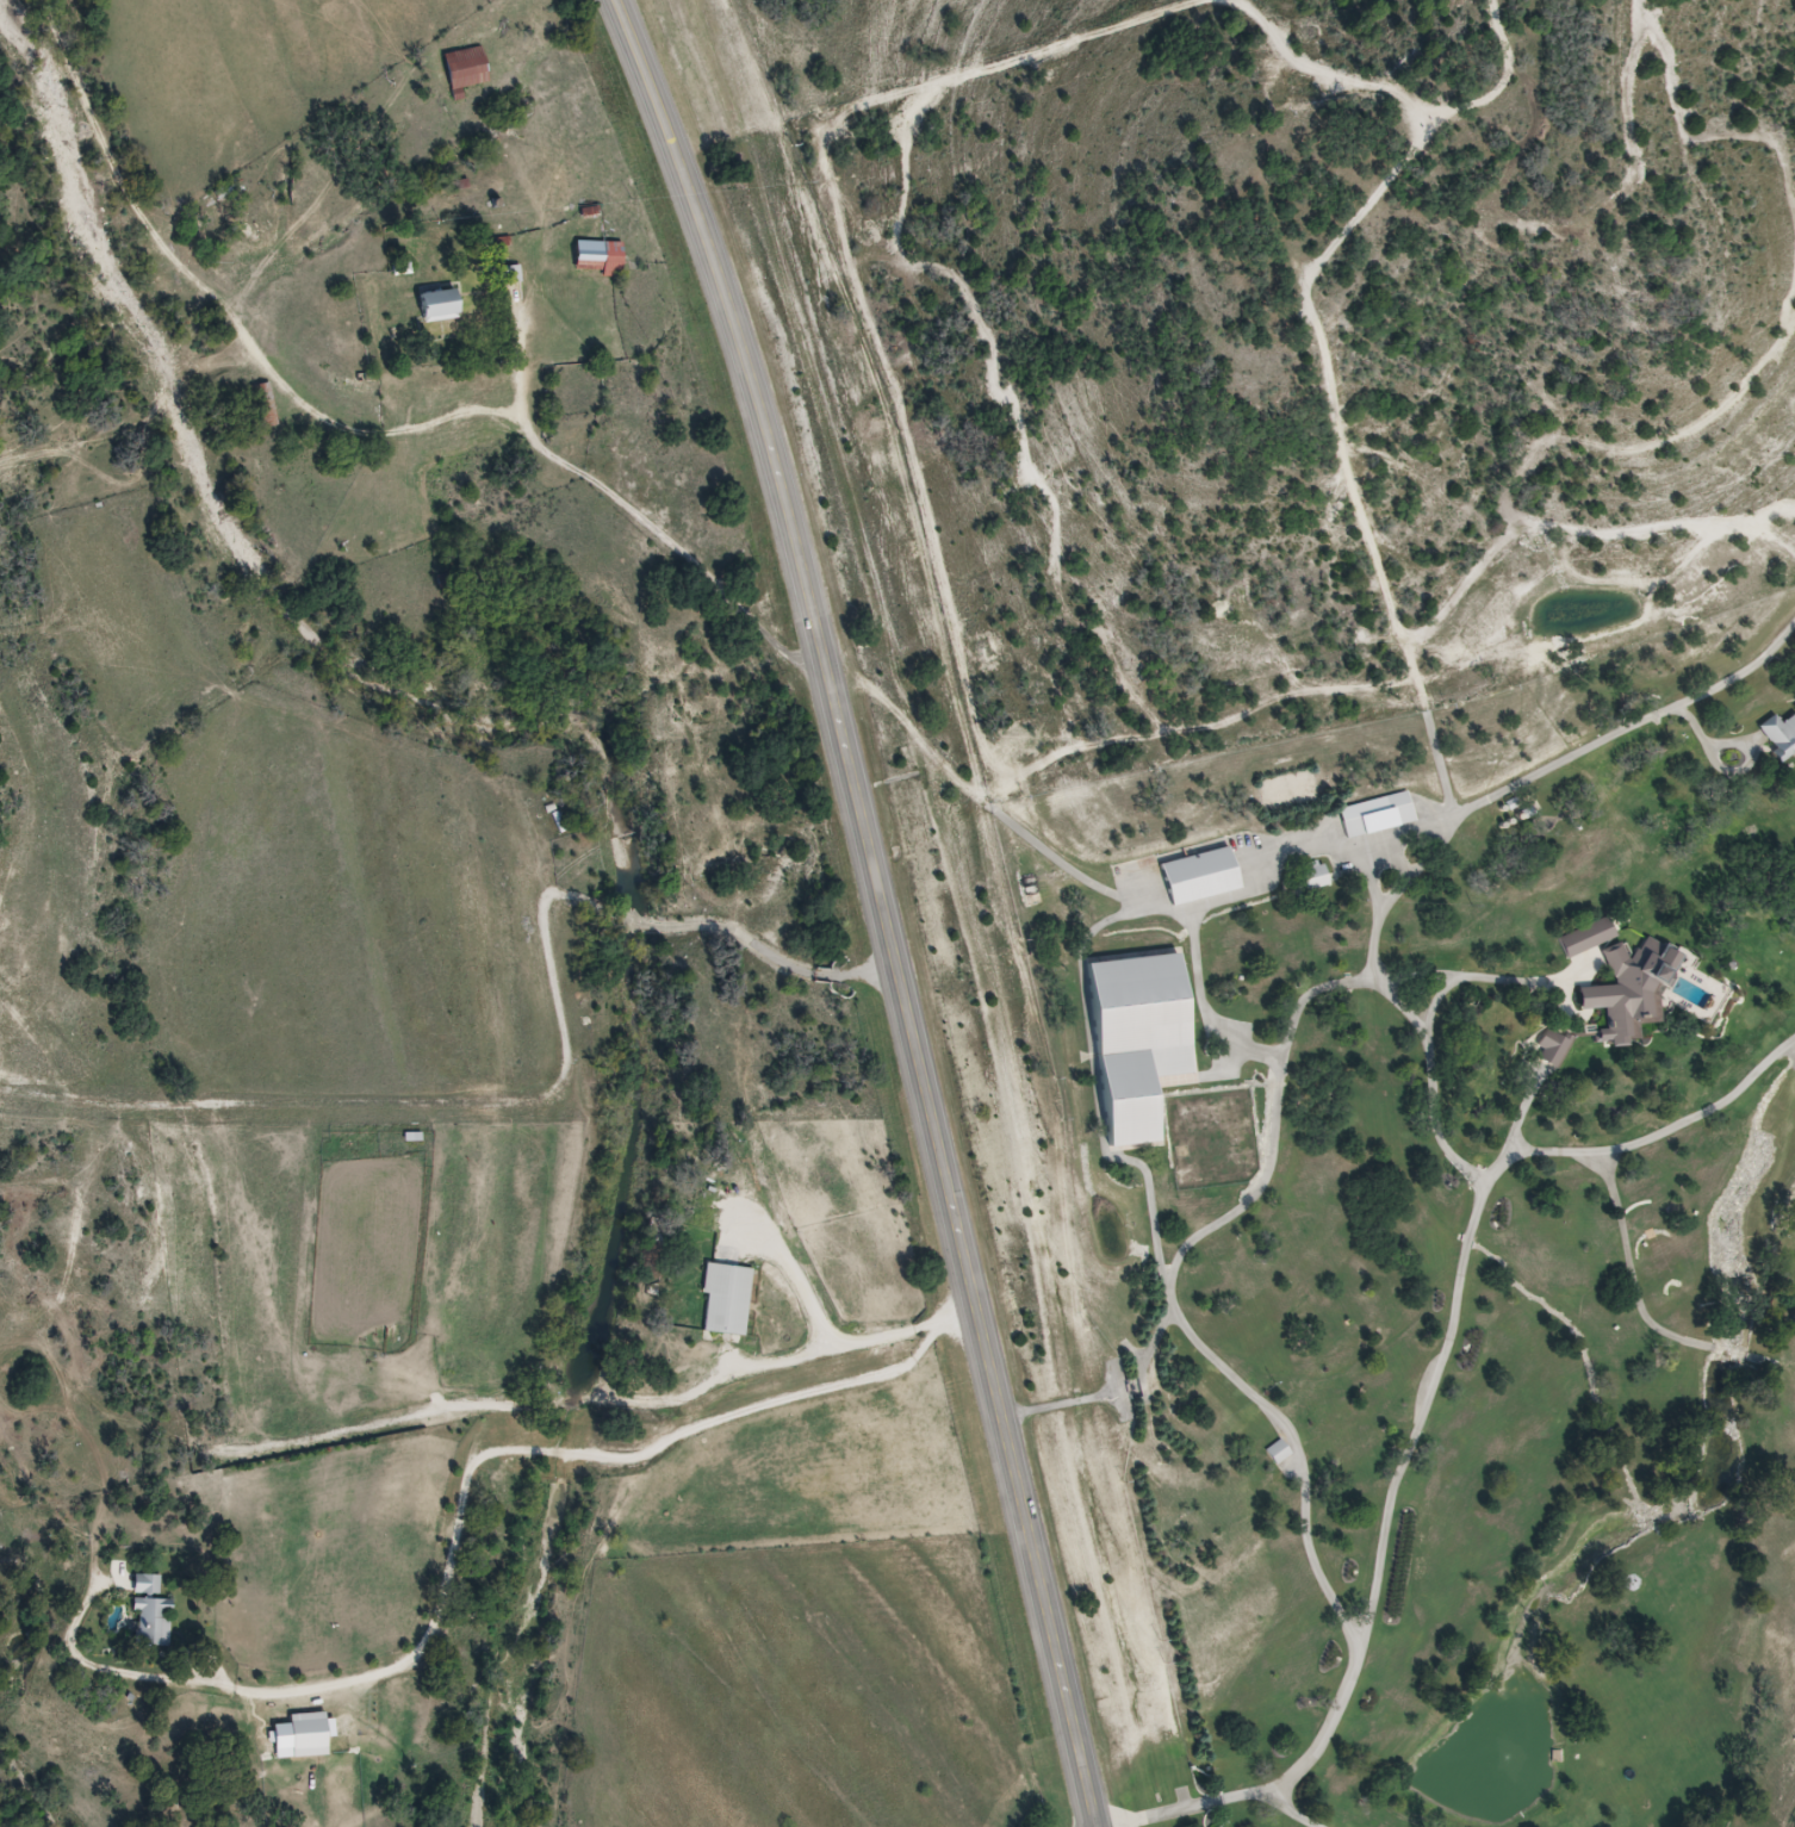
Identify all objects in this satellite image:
road: (632, 37)
building: (468, 72)
building: (601, 260)
building: (445, 306)
road: (521, 356)
building: (267, 400)
road: (366, 433)
building: (1781, 737)
building: (1288, 793)
building: (1378, 815)
road: (1077, 869)
building: (1203, 876)
building: (1317, 876)
building: (1590, 937)
road: (896, 943)
building: (1635, 987)
building: (1144, 1043)
building: (1554, 1049)
road: (1256, 1201)
building: (728, 1299)
road: (834, 1325)
road: (372, 1431)
road: (489, 1438)
building: (1280, 1452)
road: (468, 1511)
road: (1393, 1520)
building: (153, 1615)
building: (313, 1735)
road: (1291, 1813)

